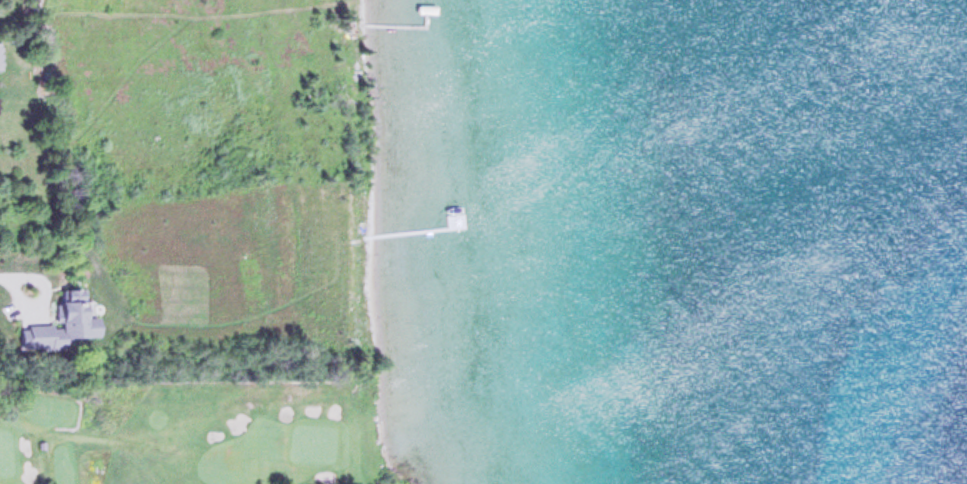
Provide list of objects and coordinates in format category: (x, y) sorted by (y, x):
building: (0, 53)
park: (26, 196)

